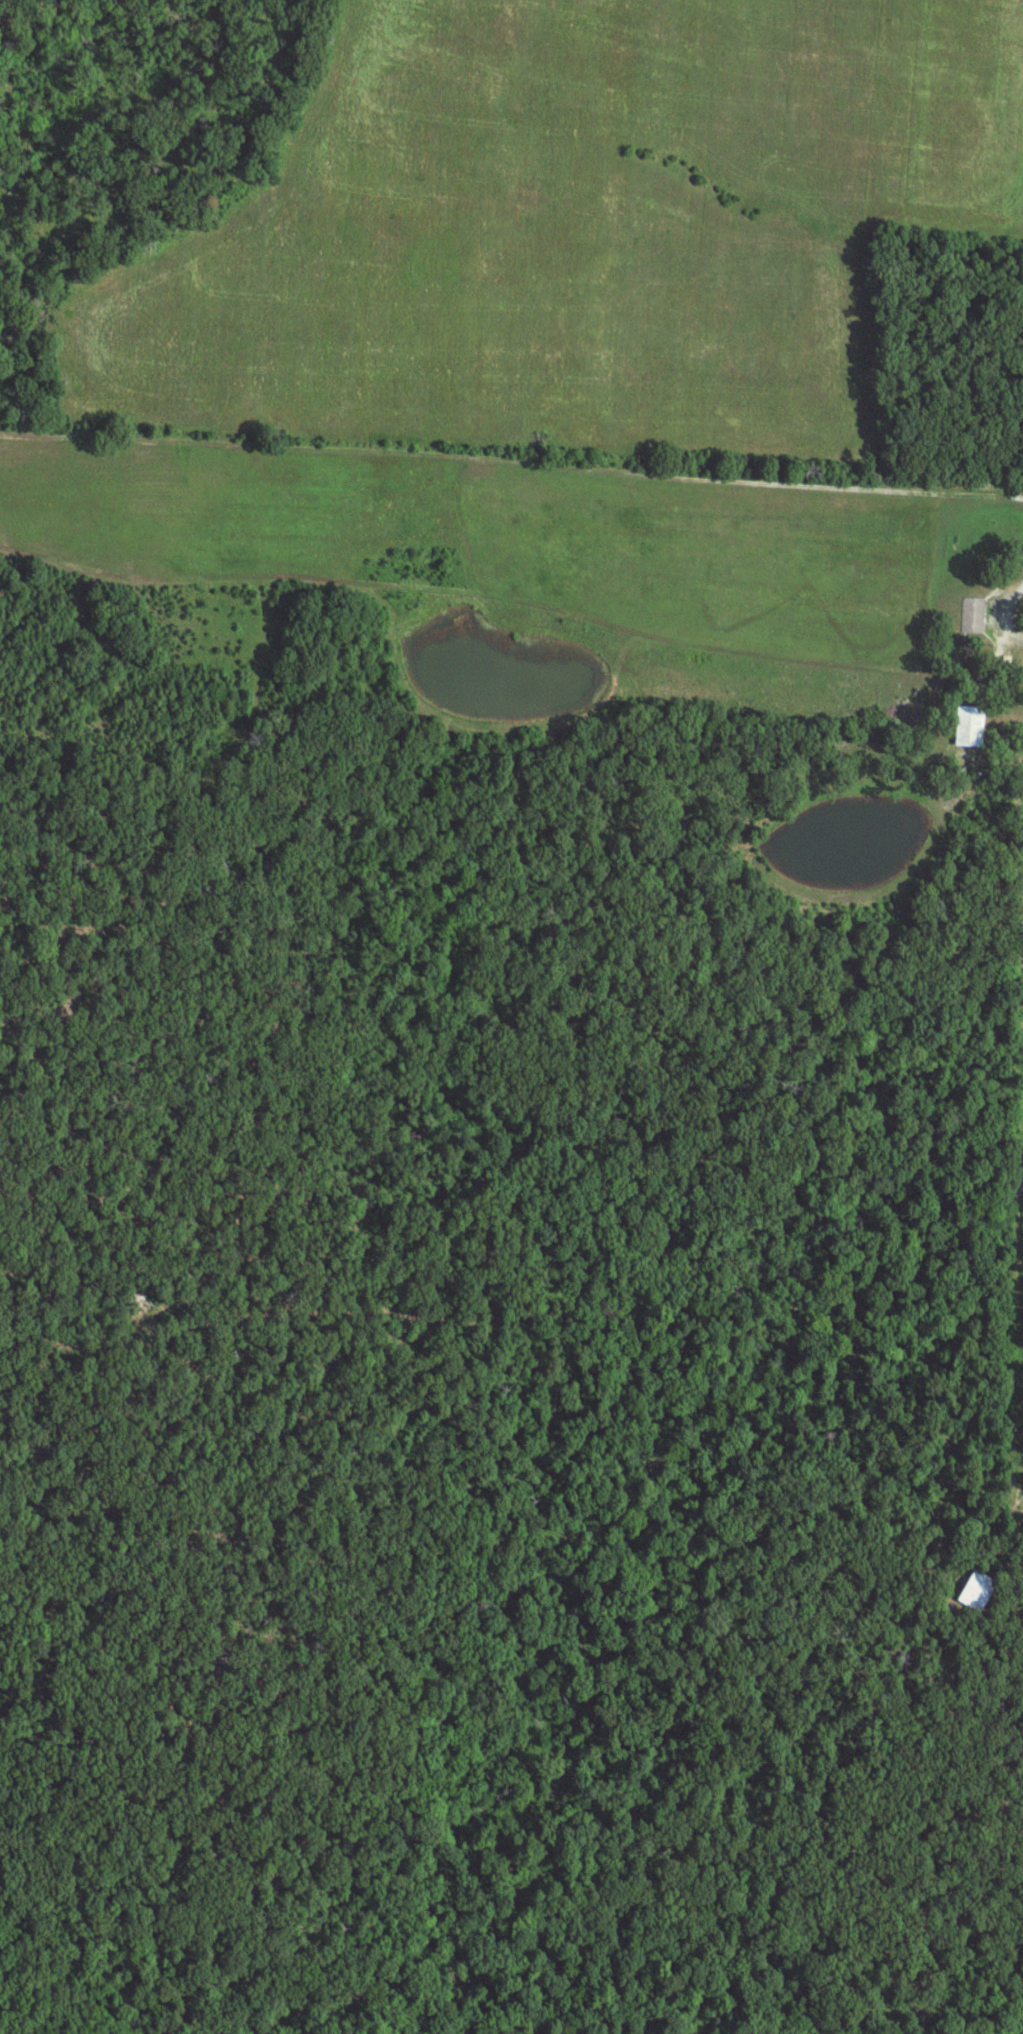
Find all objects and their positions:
building: (975, 615)
road: (1006, 653)
building: (974, 726)
road: (1021, 1300)
road: (1009, 1548)
building: (982, 1591)
building: (1022, 1634)

